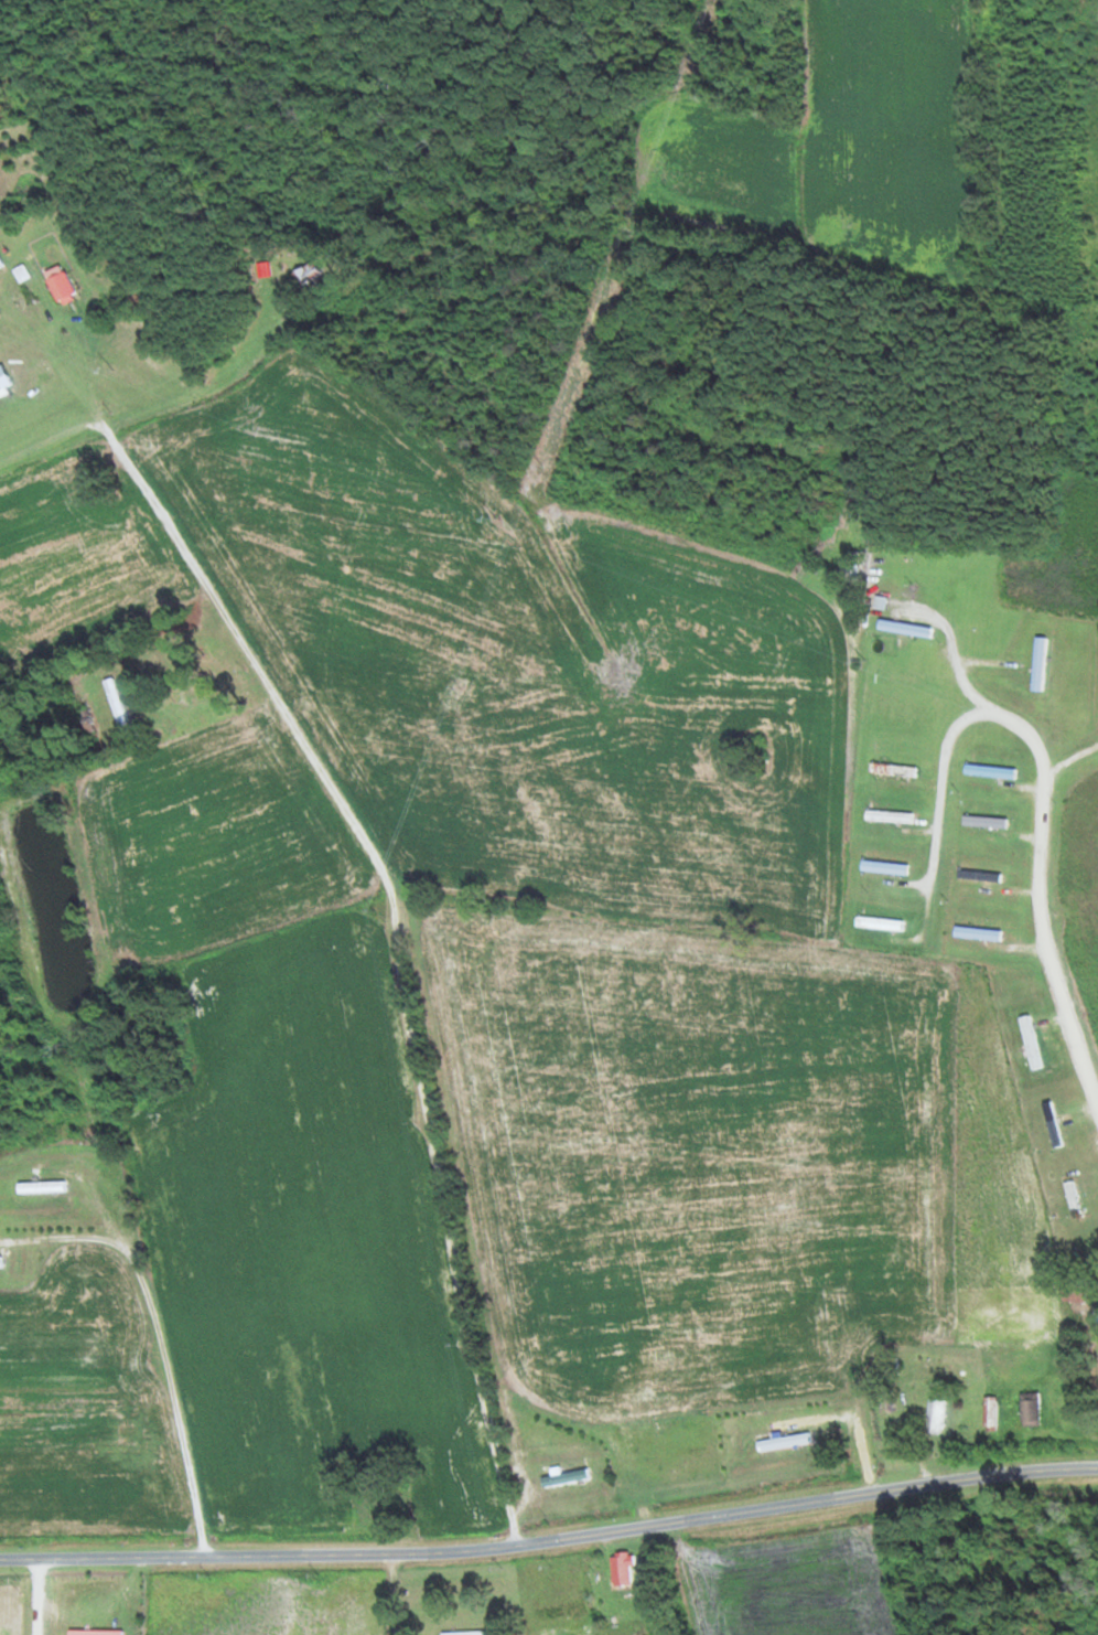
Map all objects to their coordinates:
building: (305, 271)
building: (58, 287)
building: (3, 381)
road: (663, 399)
road: (908, 425)
building: (1037, 664)
building: (890, 770)
building: (987, 771)
building: (885, 816)
building: (981, 822)
building: (881, 867)
building: (876, 923)
building: (975, 933)
road: (401, 955)
road: (1061, 1000)
building: (1029, 1041)
building: (1051, 1123)
building: (40, 1187)
building: (1070, 1197)
building: (1096, 1319)
building: (1029, 1409)
building: (990, 1412)
building: (934, 1417)
building: (563, 1477)
road: (551, 1539)
building: (620, 1569)
road: (391, 1593)
building: (462, 1632)

